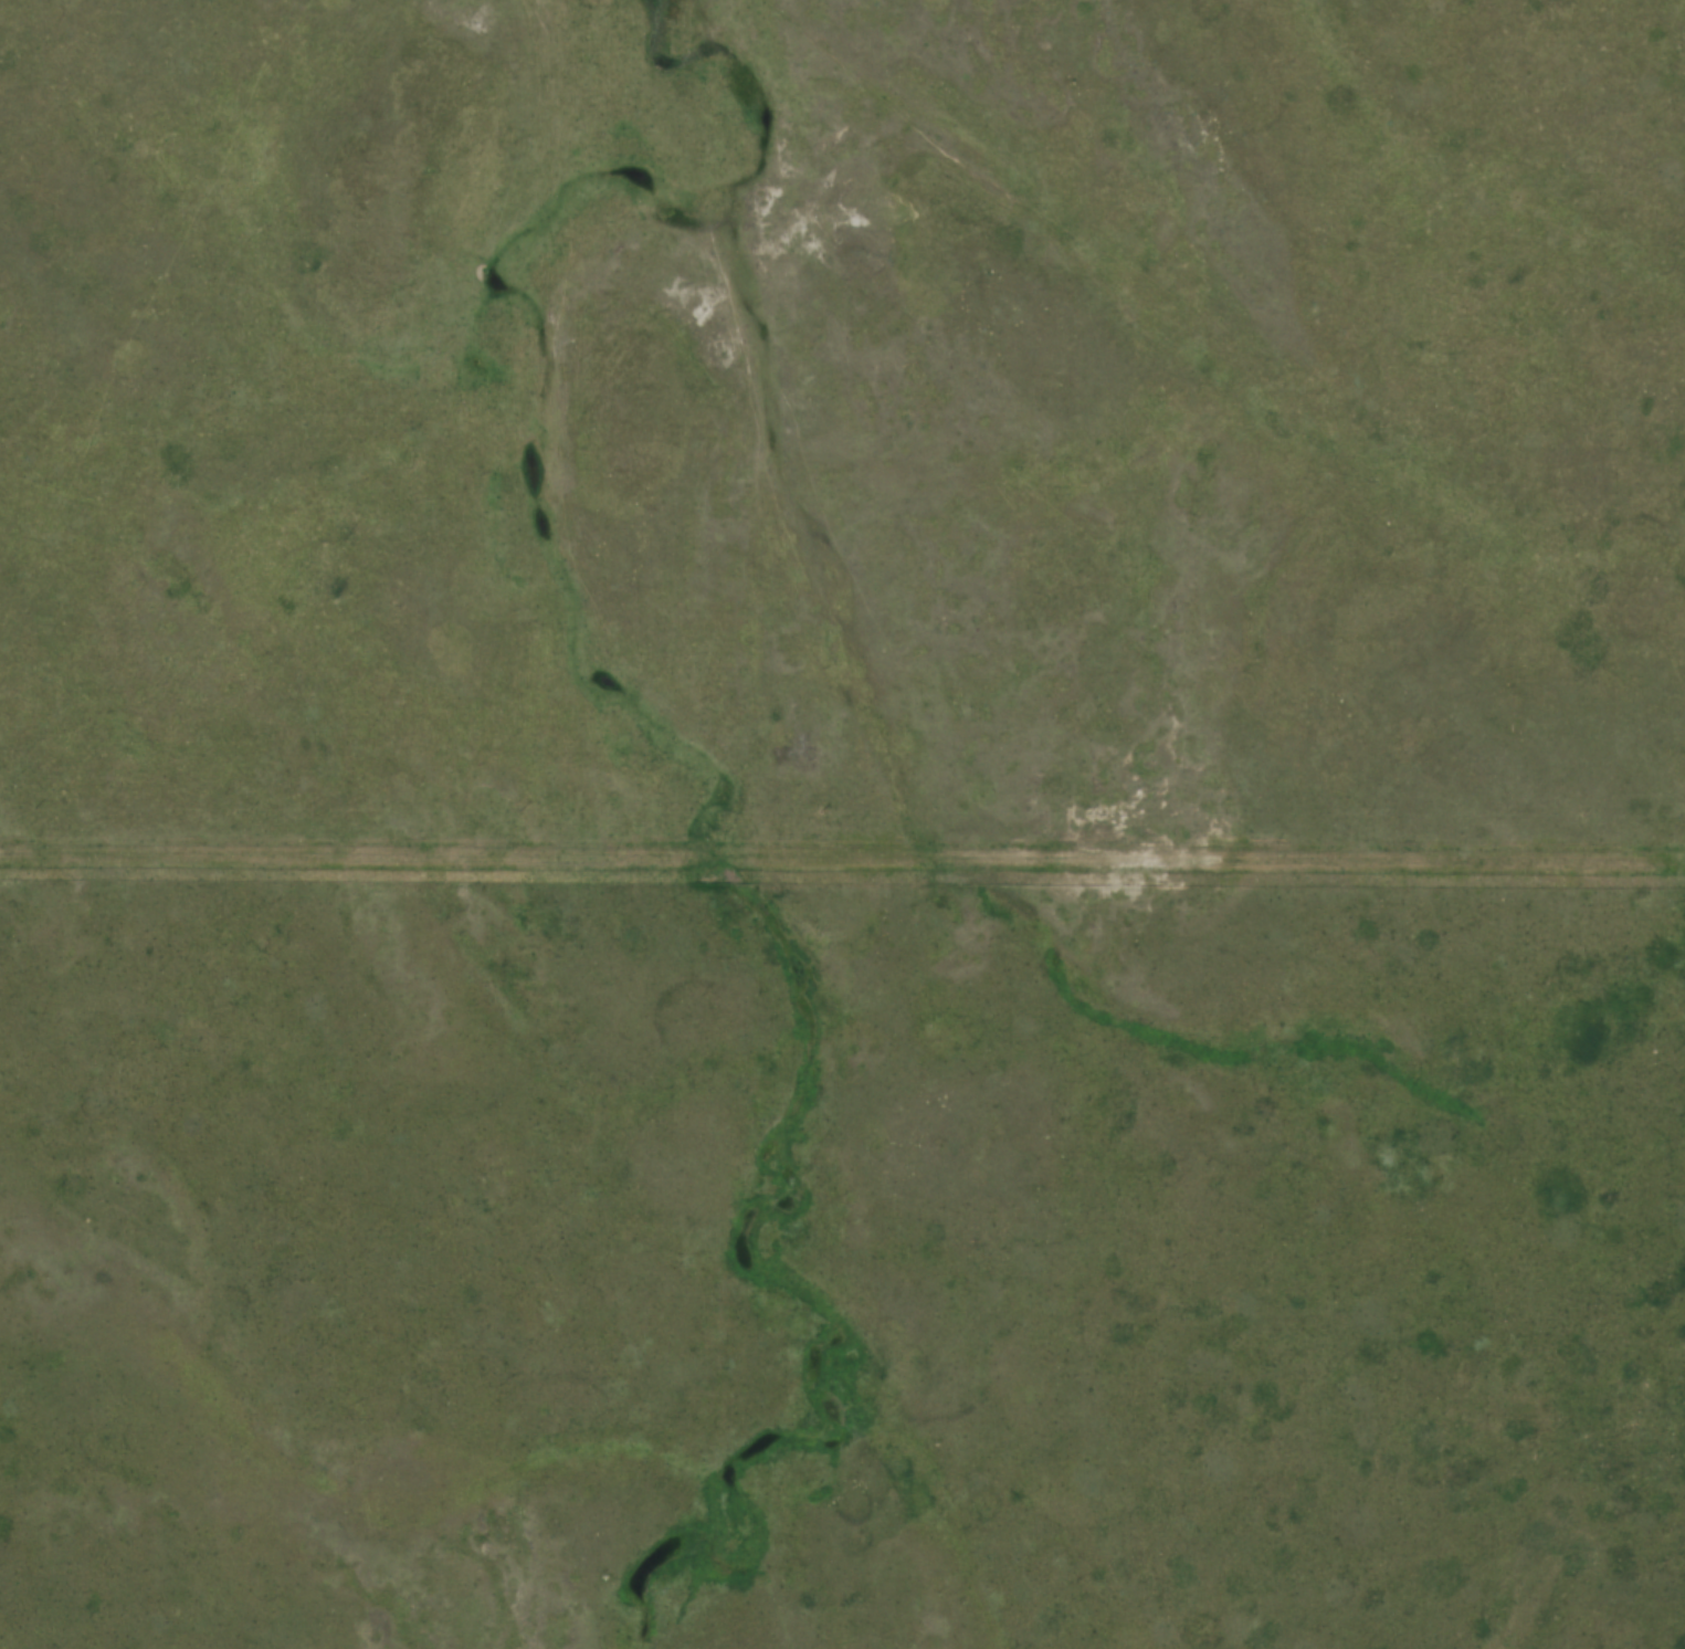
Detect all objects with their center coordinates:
road: (842, 858)

